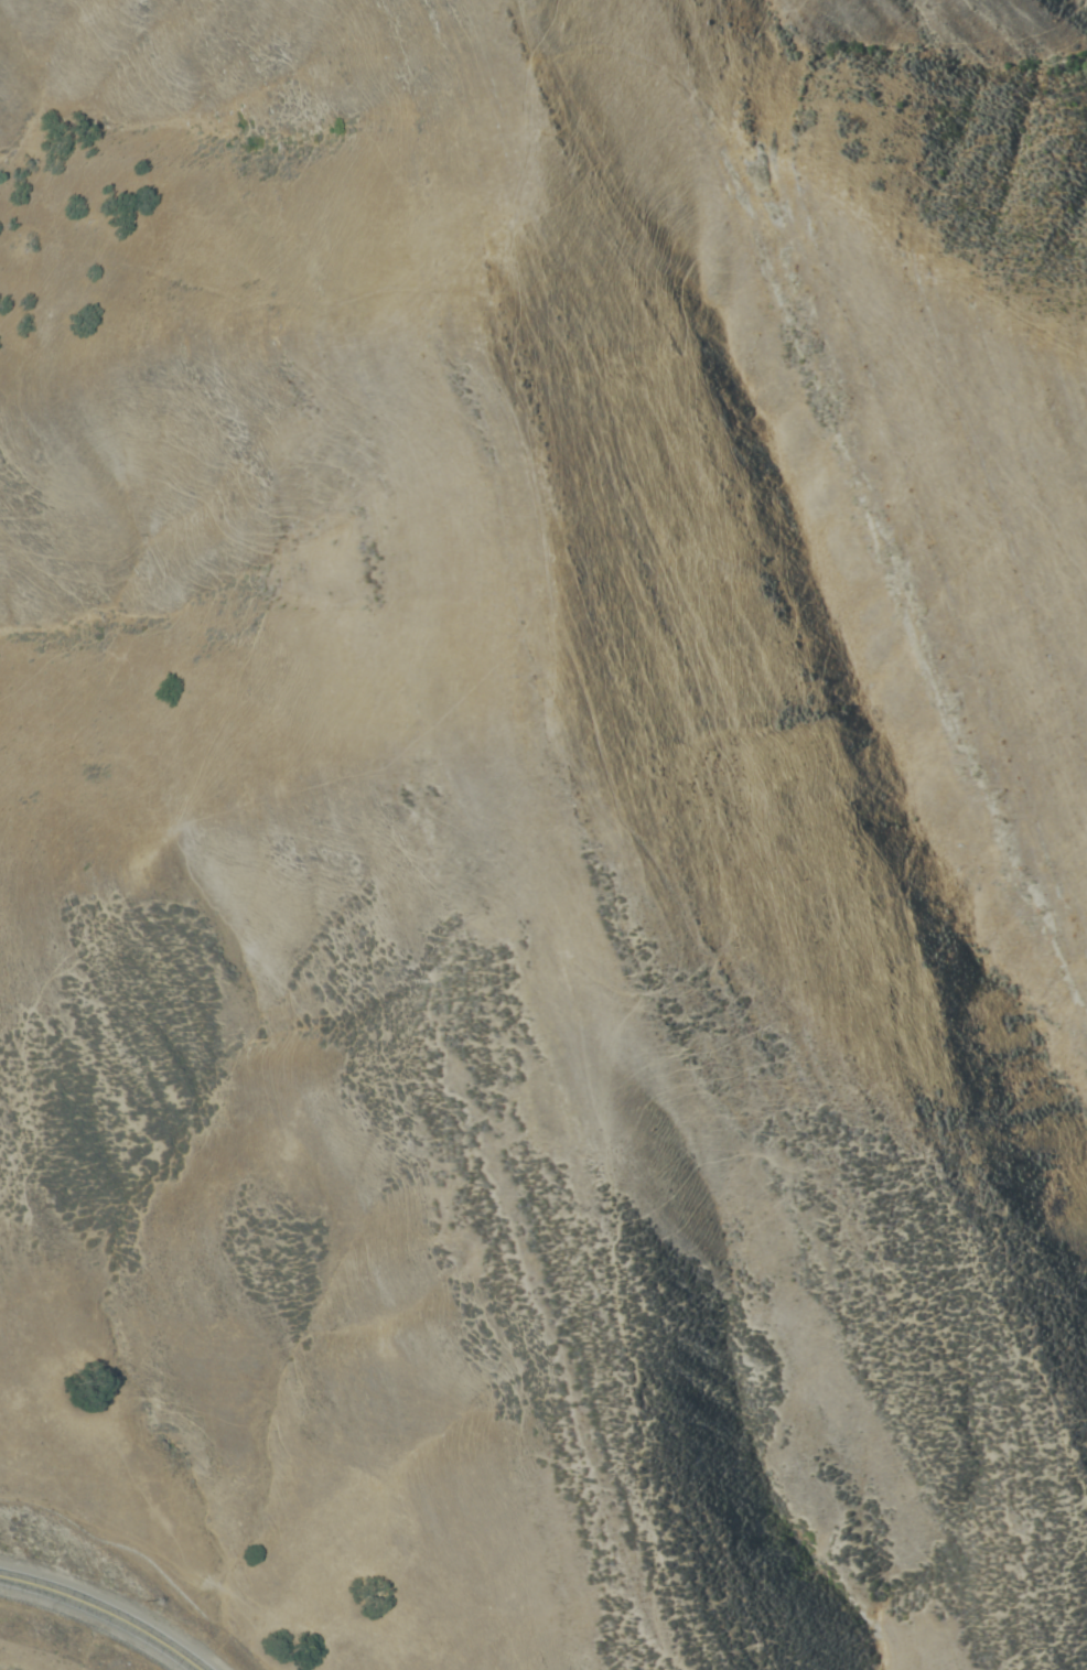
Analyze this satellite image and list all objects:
road: (122, 1595)

